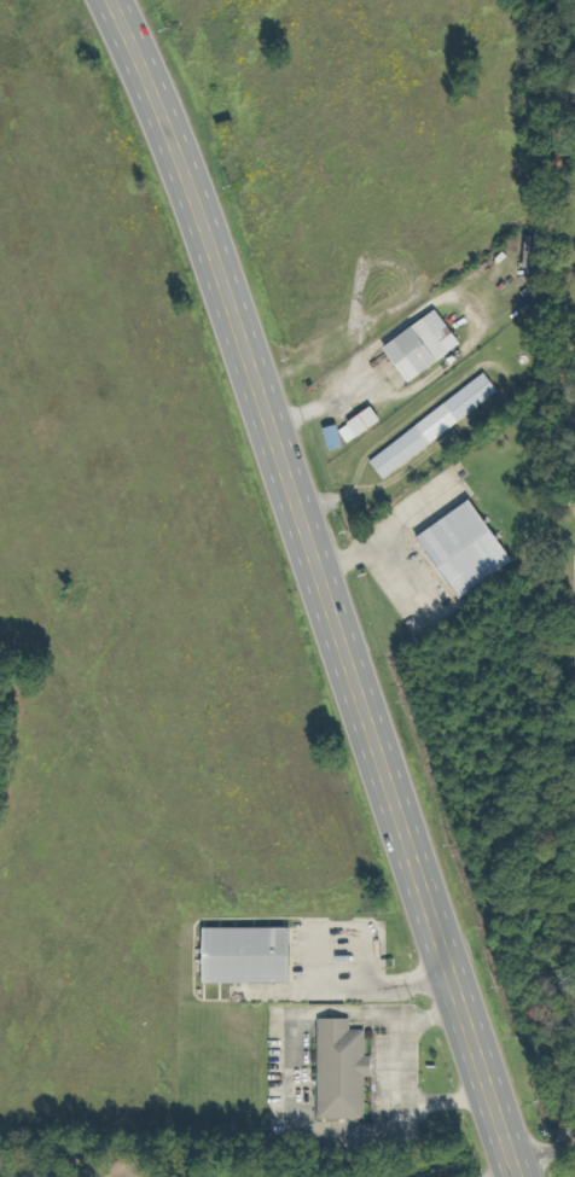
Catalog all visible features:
building: (424, 346)
building: (362, 425)
building: (436, 426)
building: (335, 438)
building: (465, 549)
road: (324, 584)
building: (248, 956)
building: (344, 1071)
road: (544, 1148)

